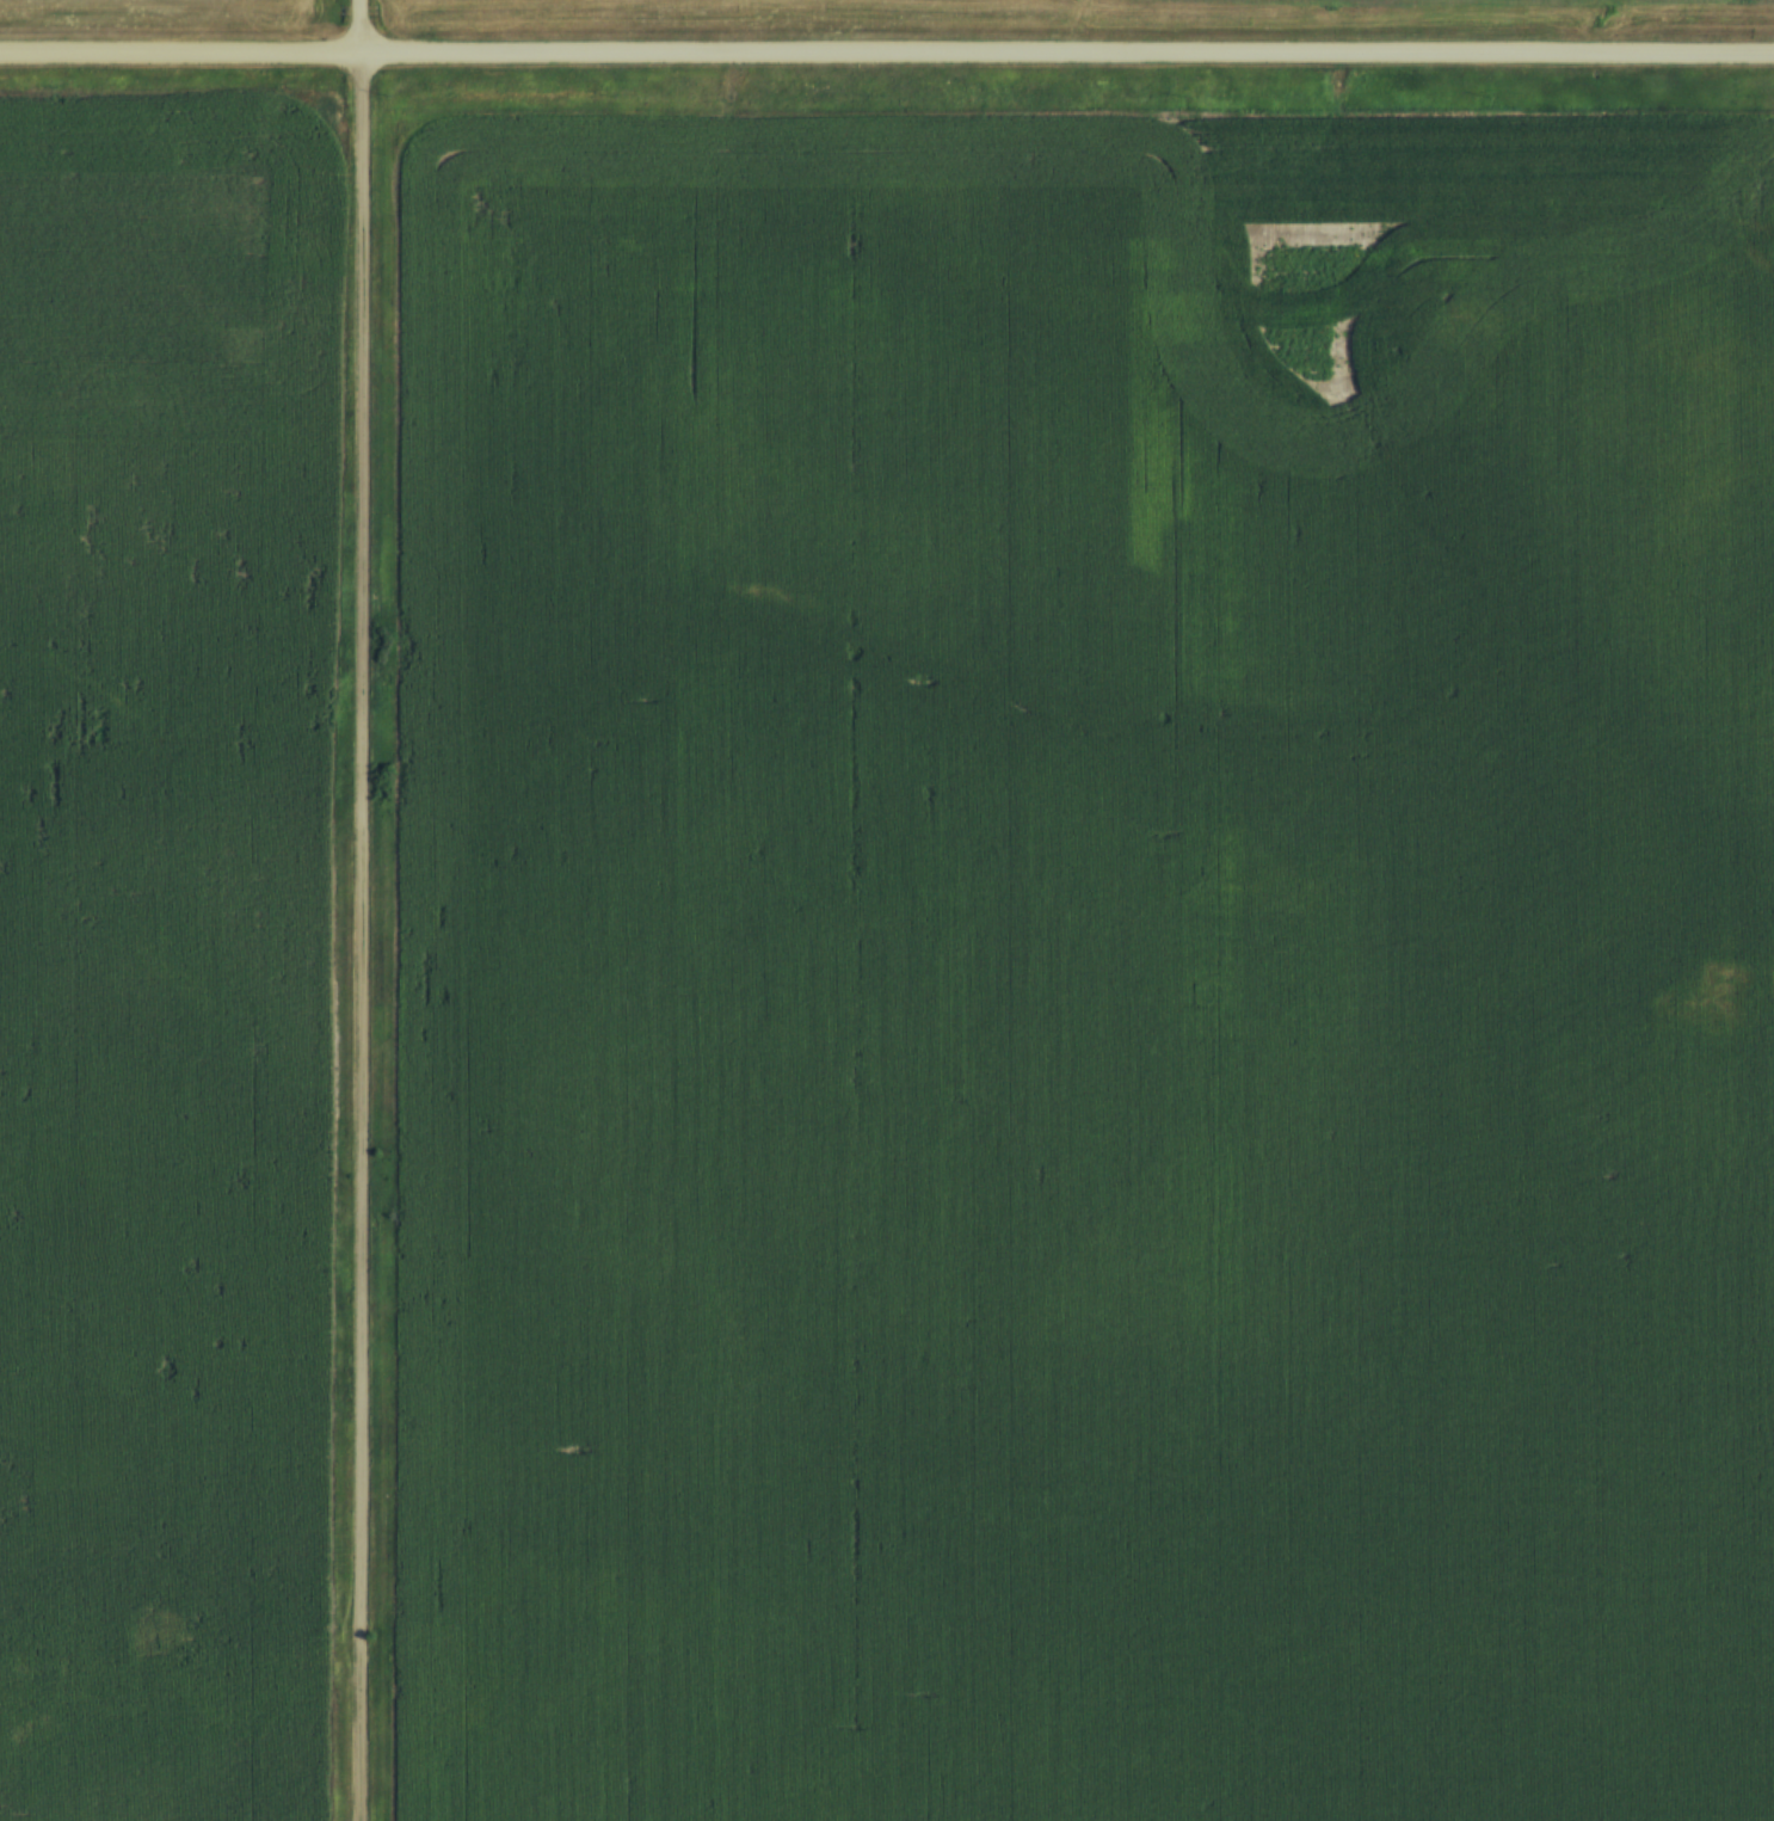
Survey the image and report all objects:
road: (361, 25)
road: (886, 50)
road: (359, 935)
crop: (166, 947)

